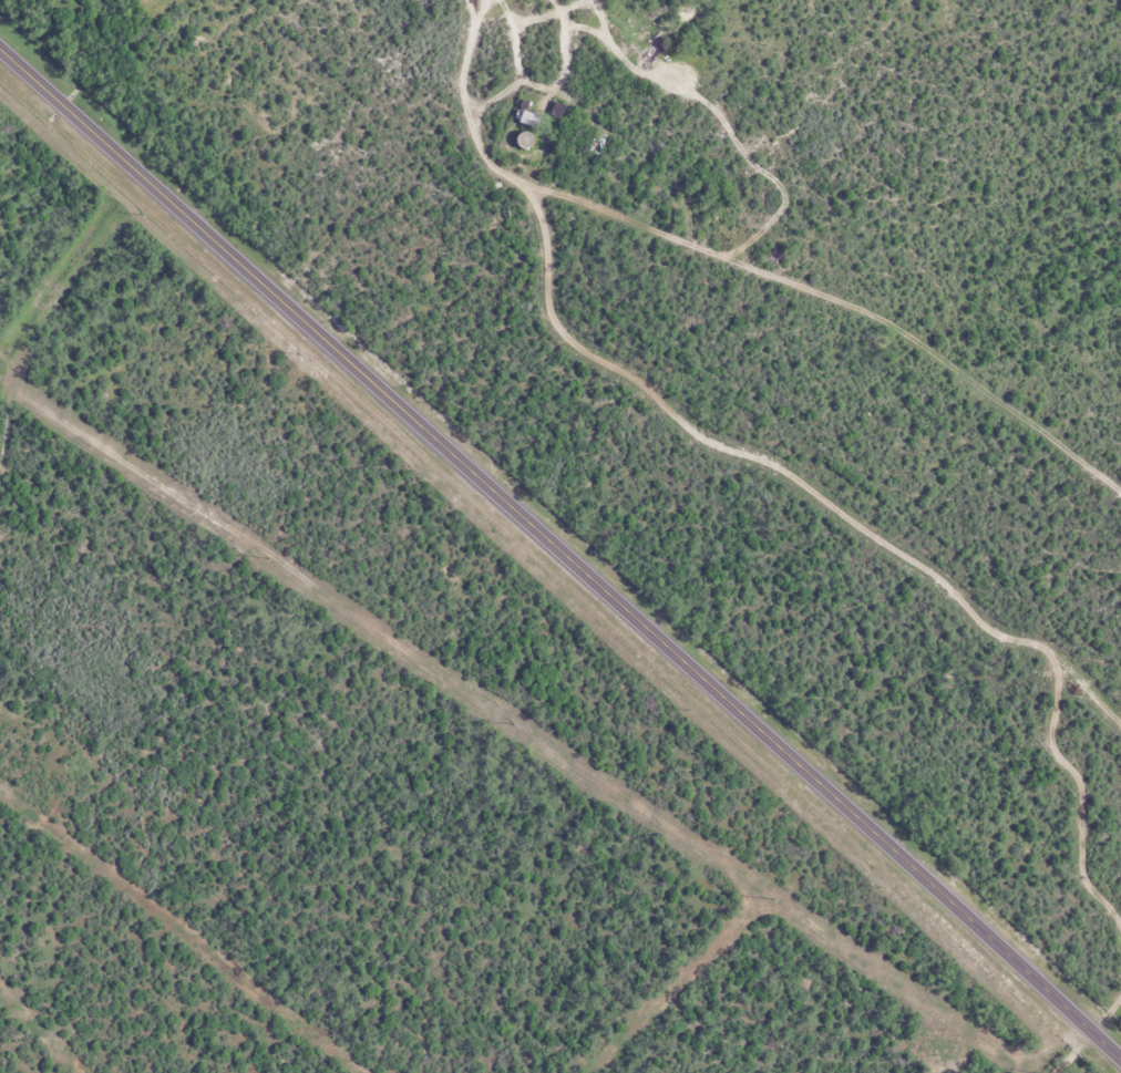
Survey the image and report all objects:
road: (555, 54)
building: (516, 117)
road: (560, 551)
power tower: (260, 557)
power tower: (506, 722)
power tower: (765, 898)

